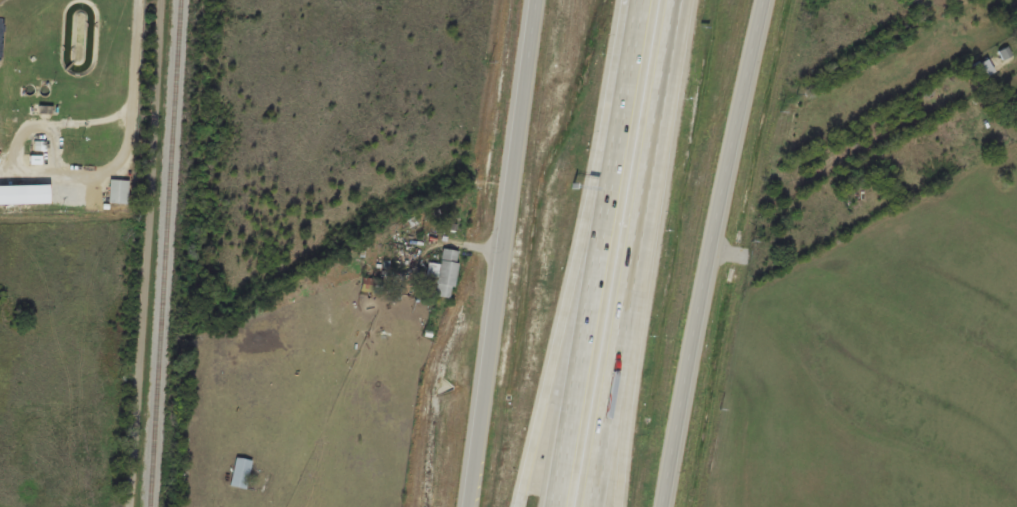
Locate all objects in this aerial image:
building: (982, 68)
road: (663, 91)
building: (116, 191)
road: (707, 252)
road: (149, 253)
railway: (164, 253)
road: (499, 253)
road: (598, 253)
building: (399, 255)
road: (578, 255)
building: (443, 272)
building: (440, 321)
road: (617, 344)
road: (631, 344)
building: (240, 472)

